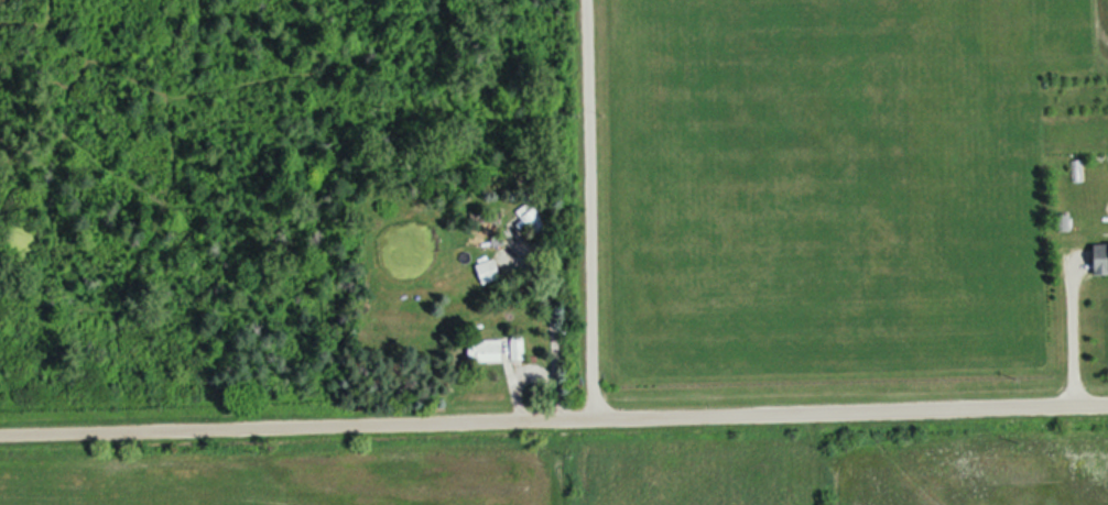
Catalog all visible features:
road: (596, 209)
building: (526, 216)
building: (1101, 257)
building: (489, 271)
road: (1080, 330)
building: (518, 350)
building: (491, 351)
road: (554, 420)

